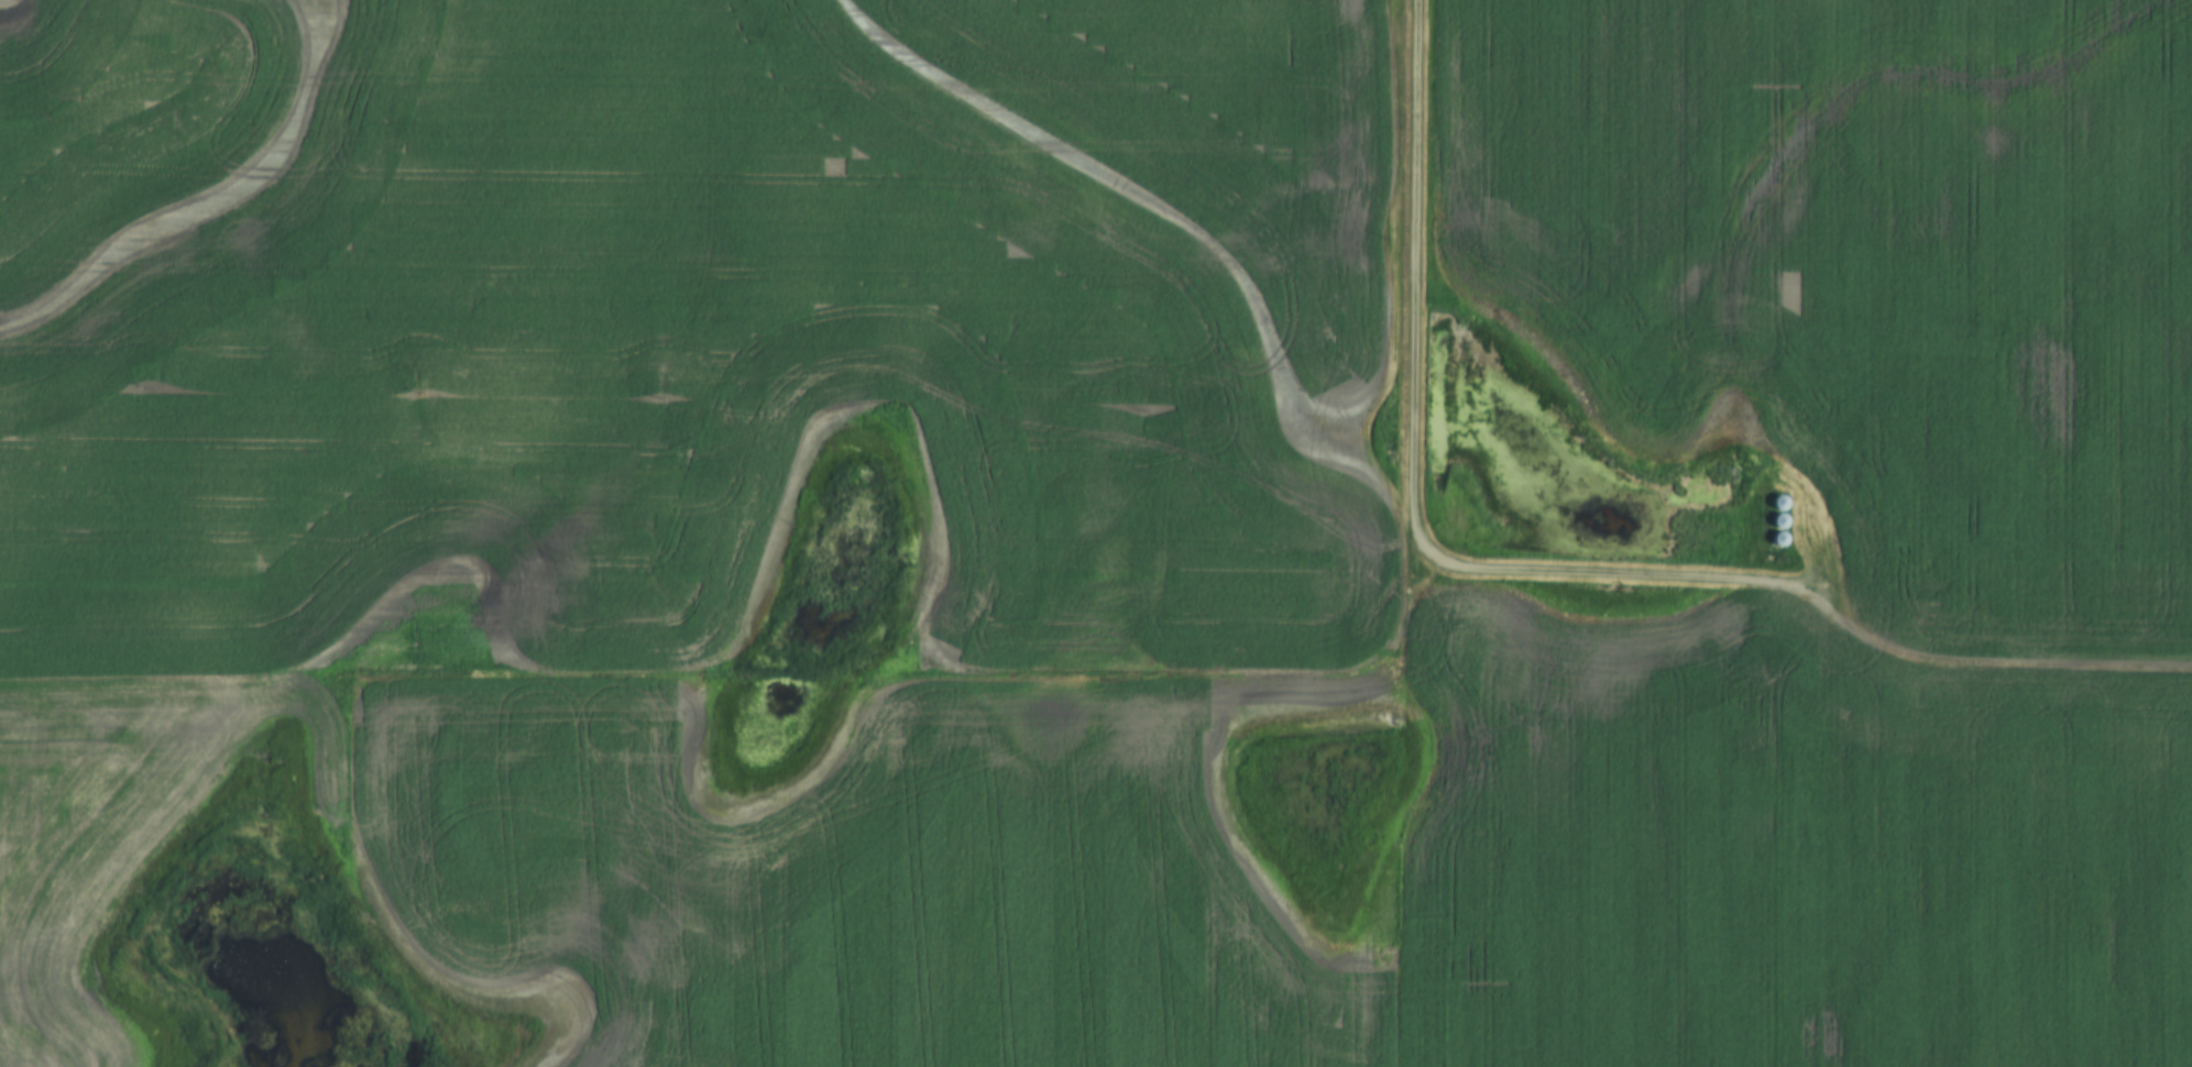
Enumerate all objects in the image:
road: (1420, 493)
building: (1778, 512)
building: (1778, 539)

